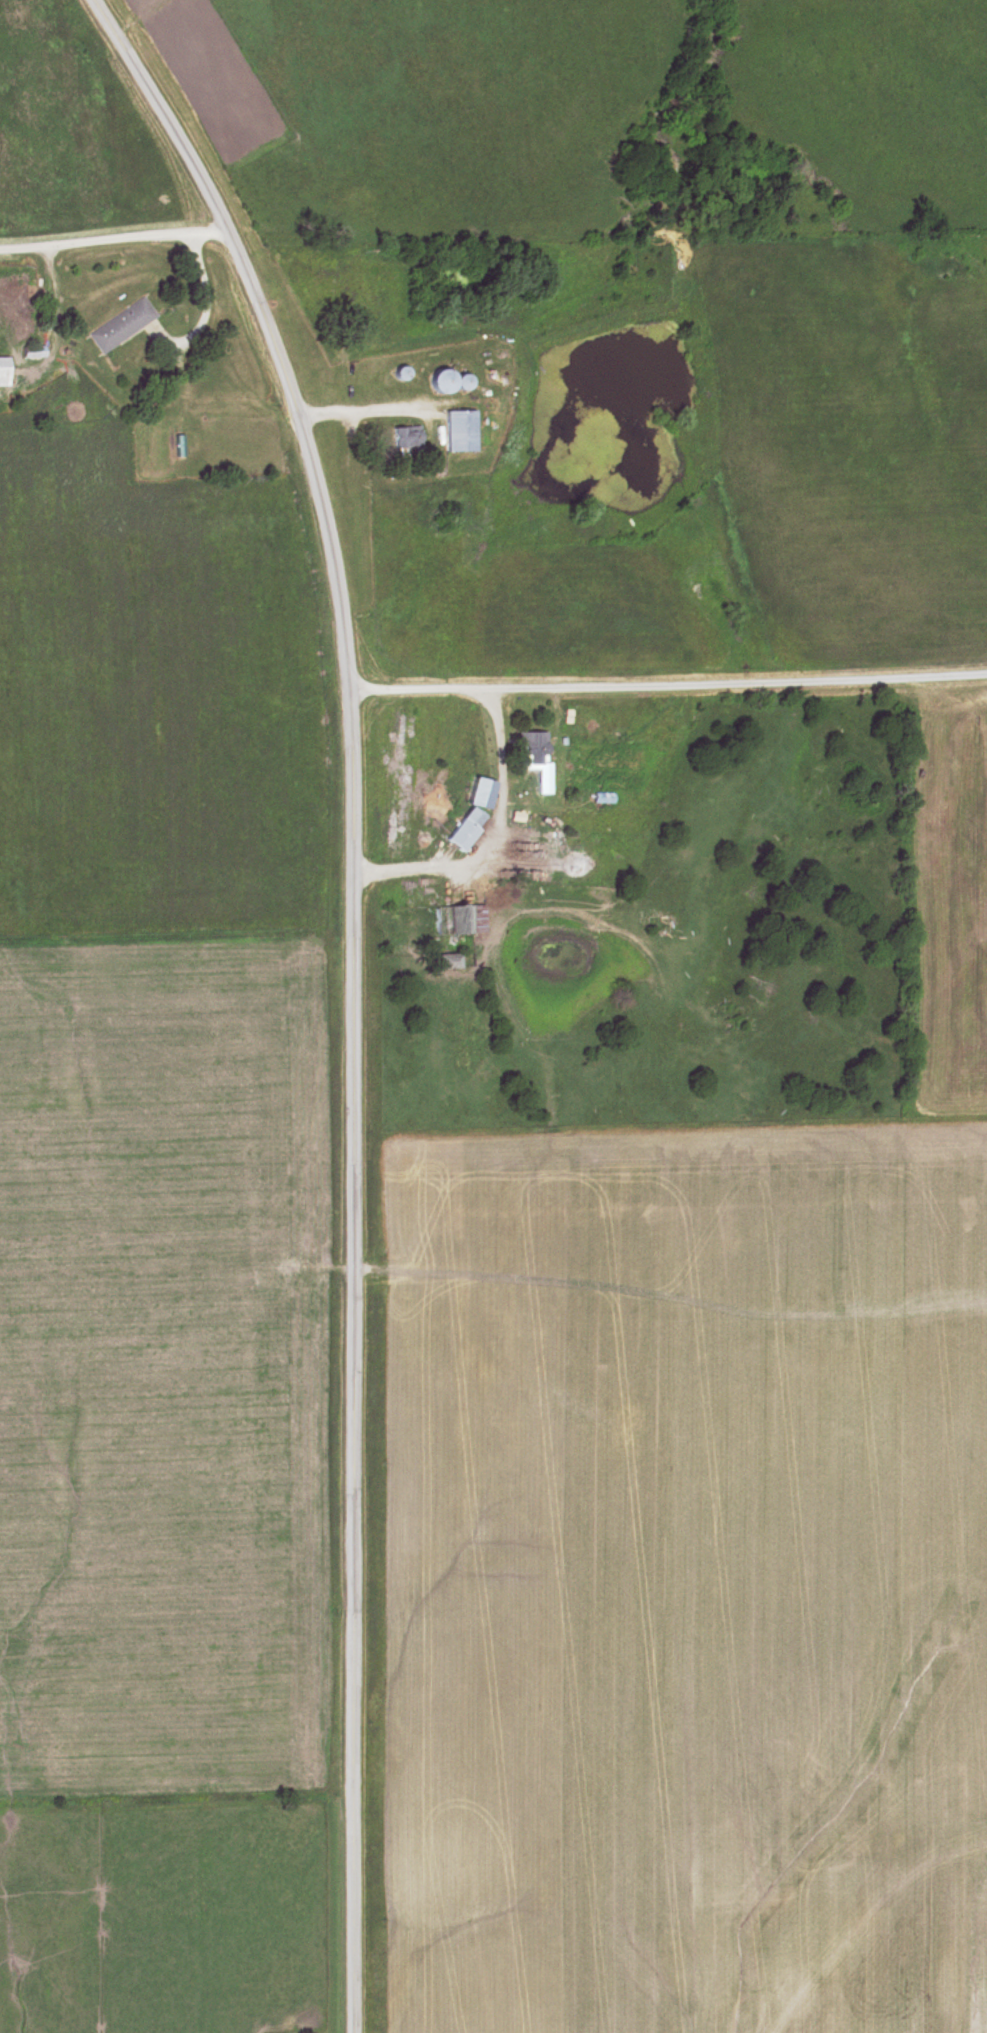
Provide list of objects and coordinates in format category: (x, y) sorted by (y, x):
road: (113, 236)
road: (206, 299)
building: (121, 325)
building: (3, 372)
building: (400, 373)
building: (441, 381)
building: (459, 431)
building: (403, 437)
road: (669, 682)
building: (530, 751)
building: (602, 797)
building: (459, 834)
building: (457, 920)
building: (454, 960)
road: (354, 988)

